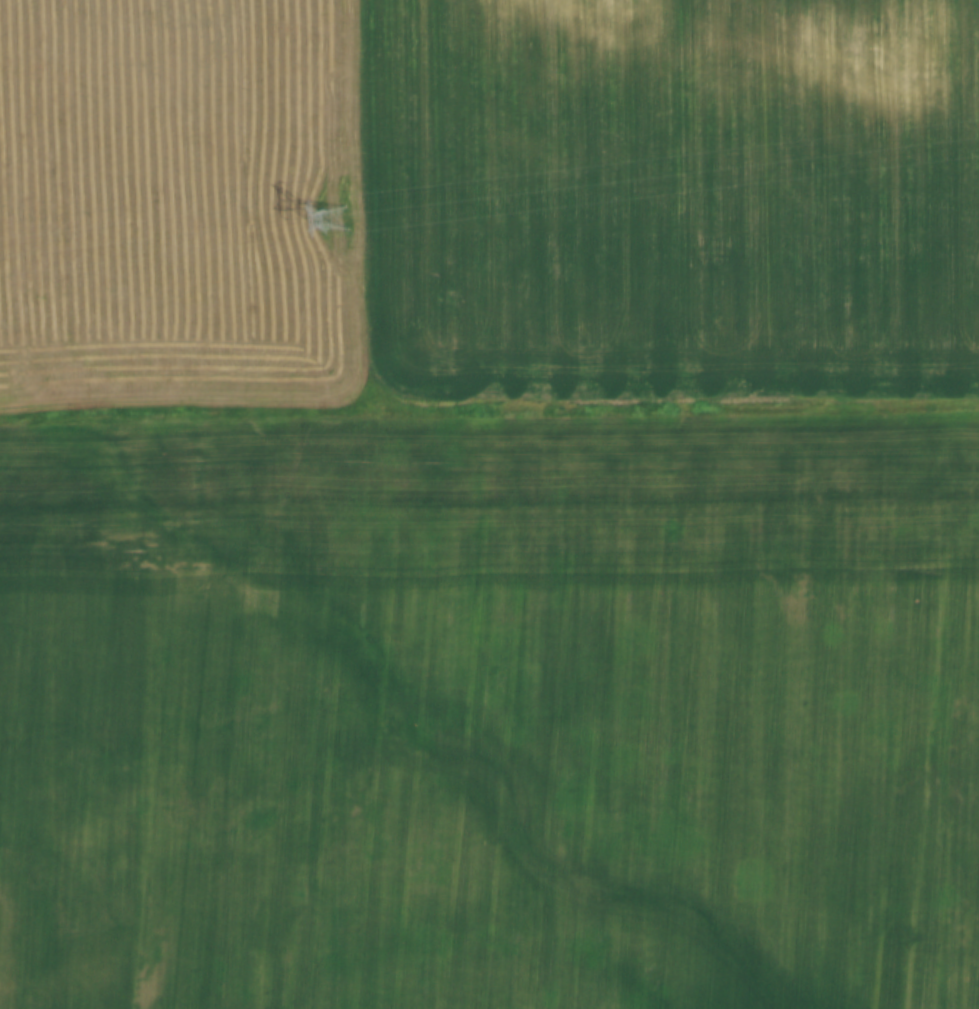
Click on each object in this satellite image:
power tower: (336, 224)

